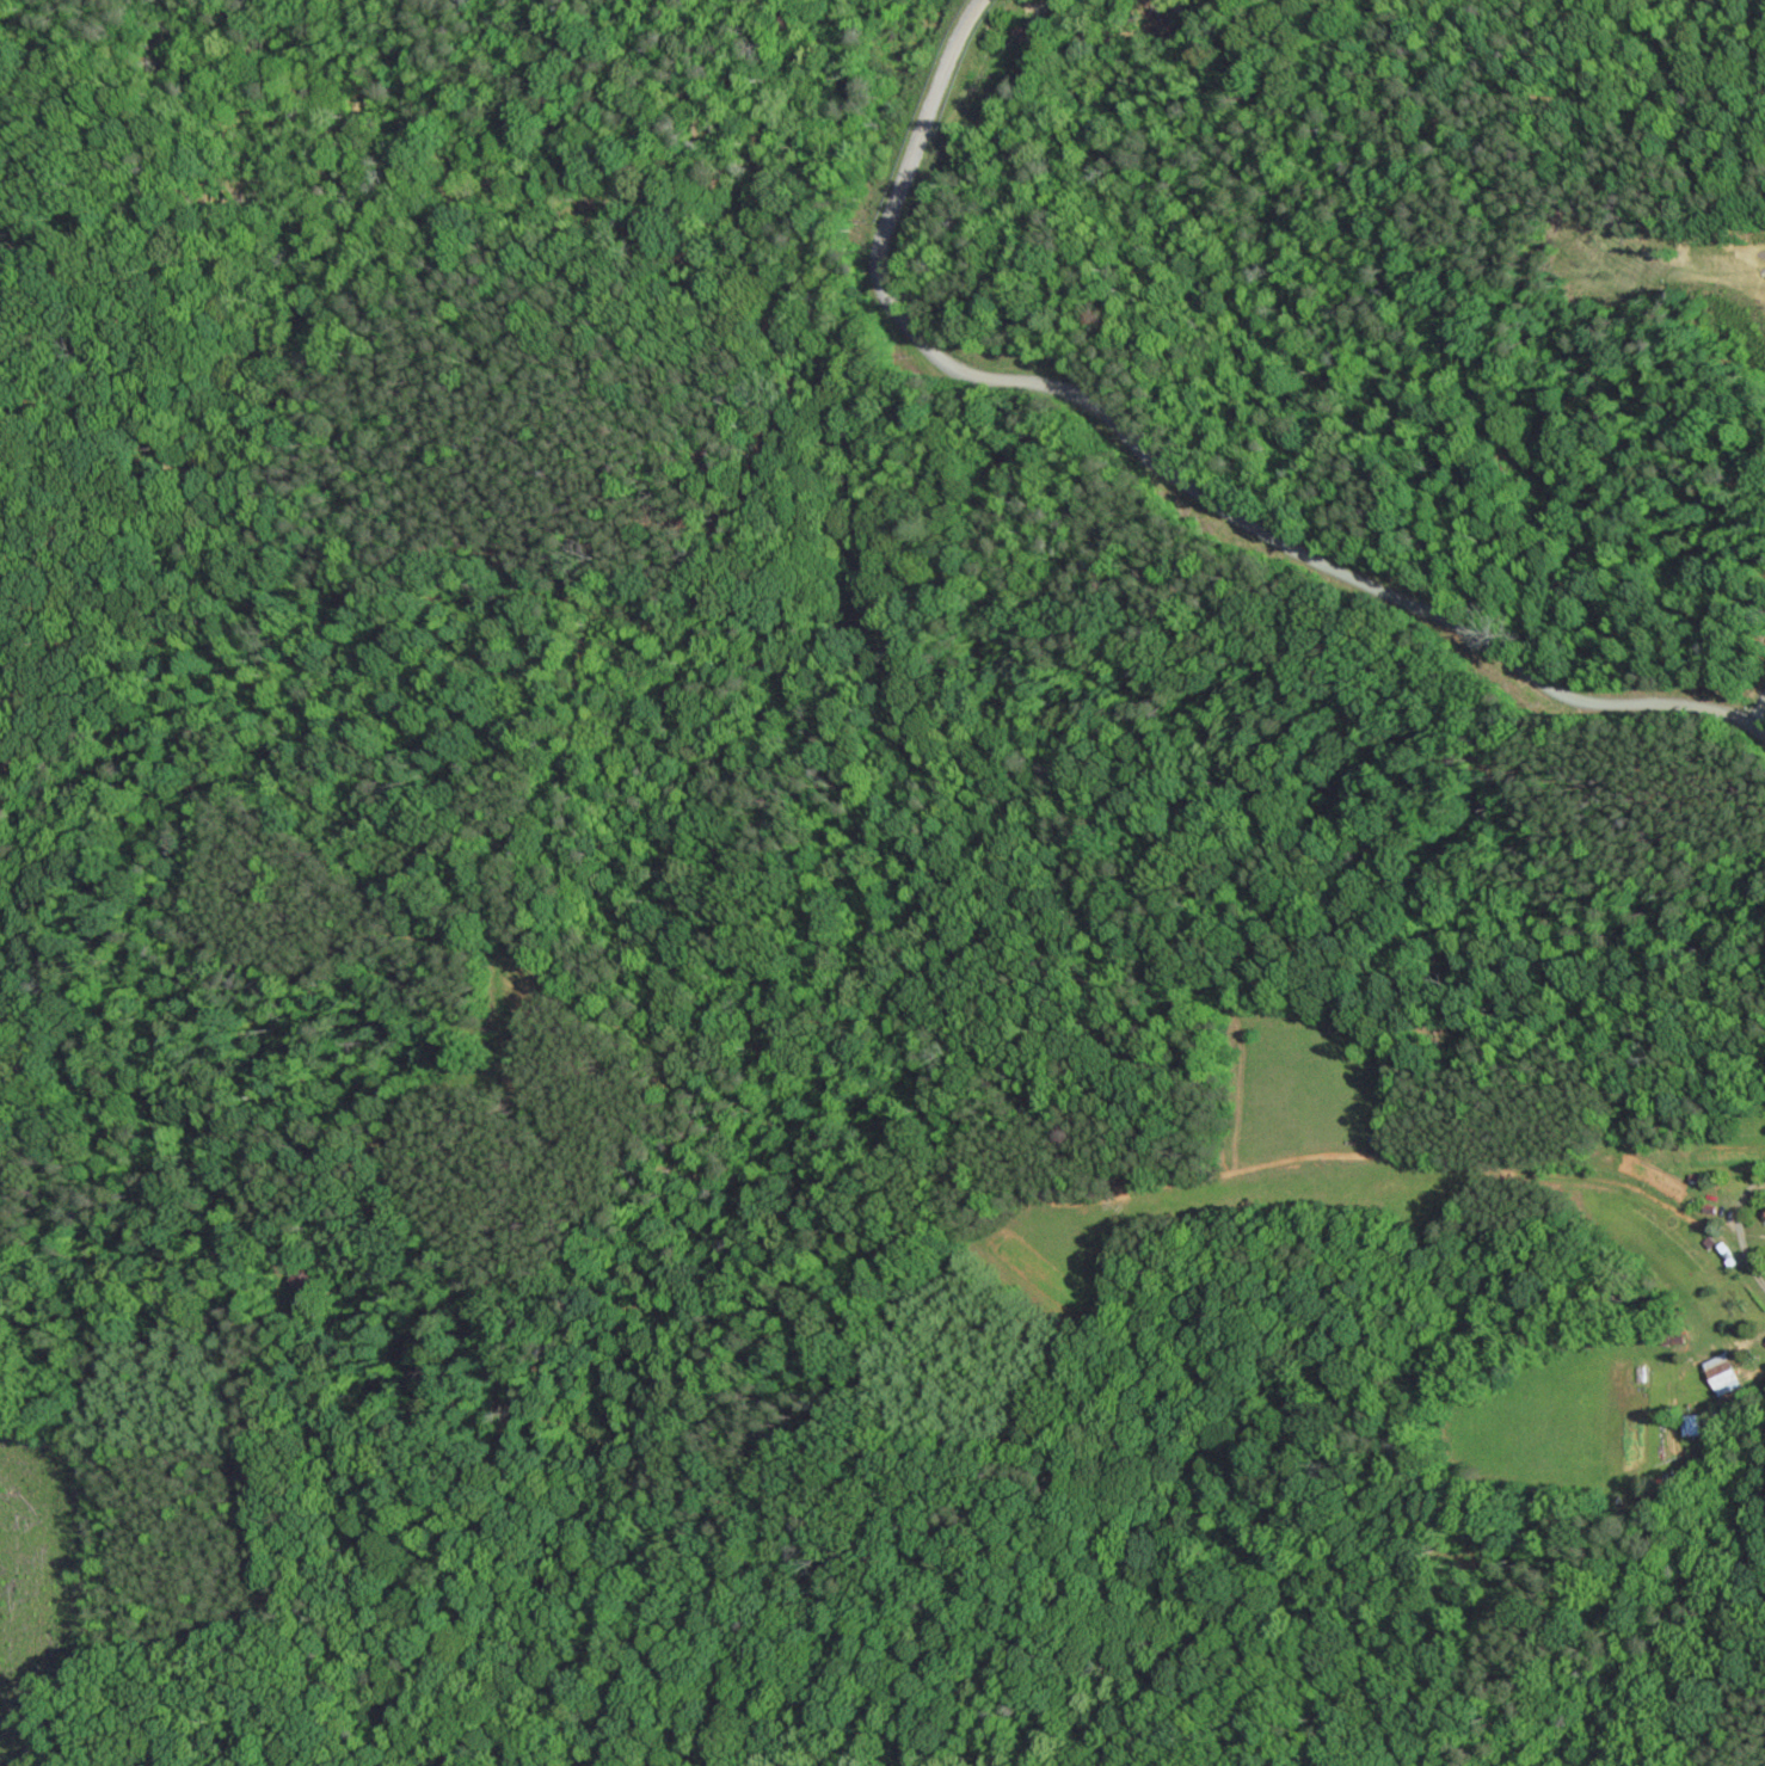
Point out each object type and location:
road: (1170, 476)
road: (1755, 709)
building: (1763, 1213)
building: (1717, 1373)
building: (1687, 1425)

